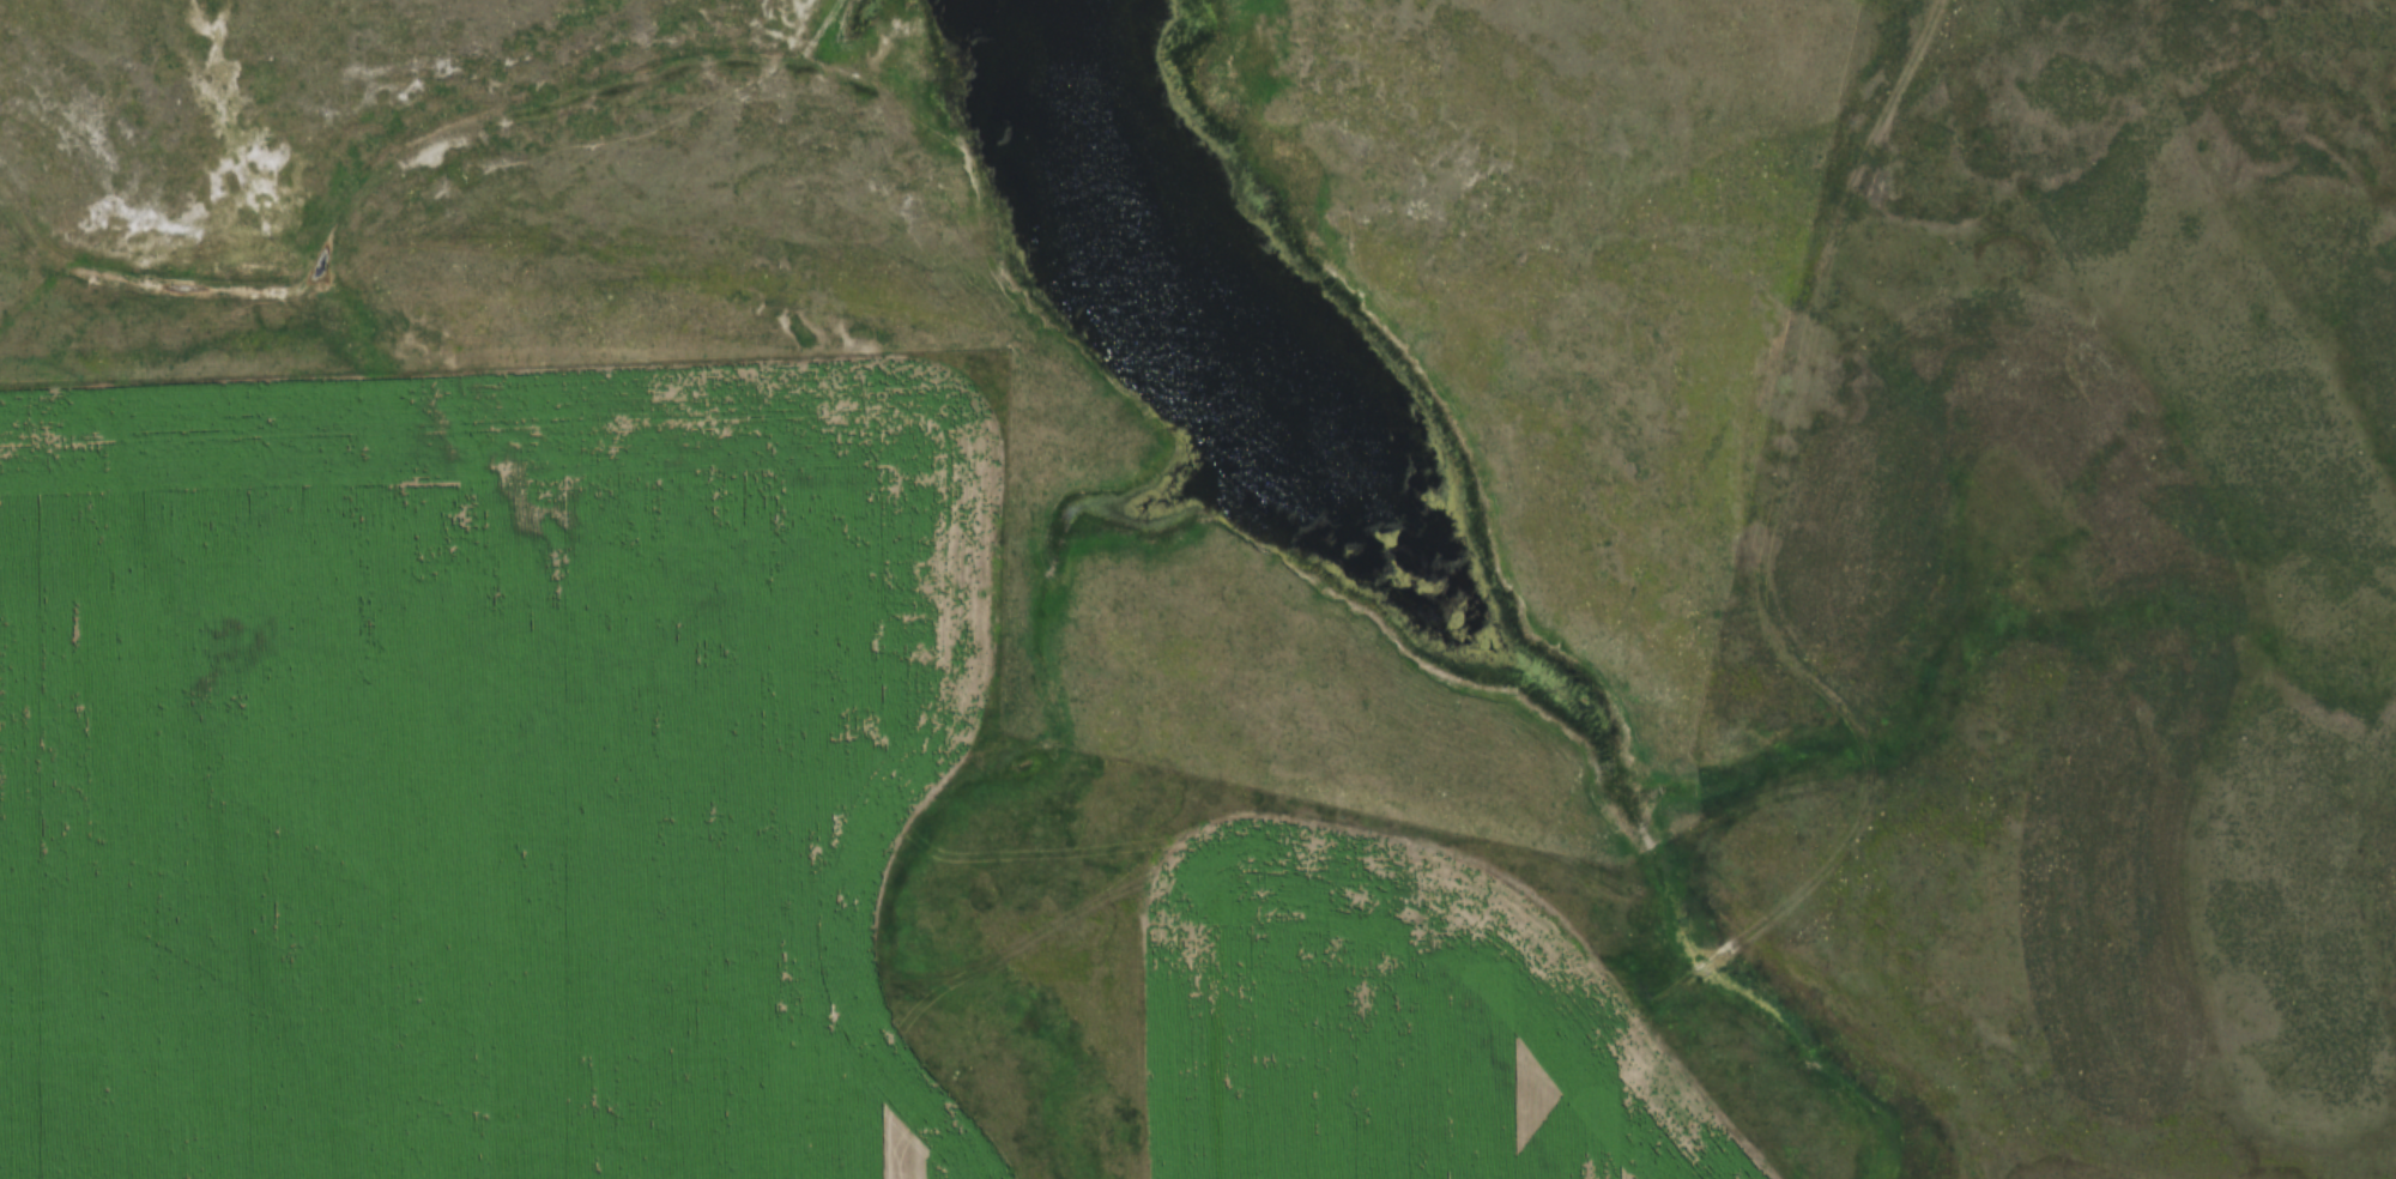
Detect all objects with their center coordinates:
dam: (818, 20)

